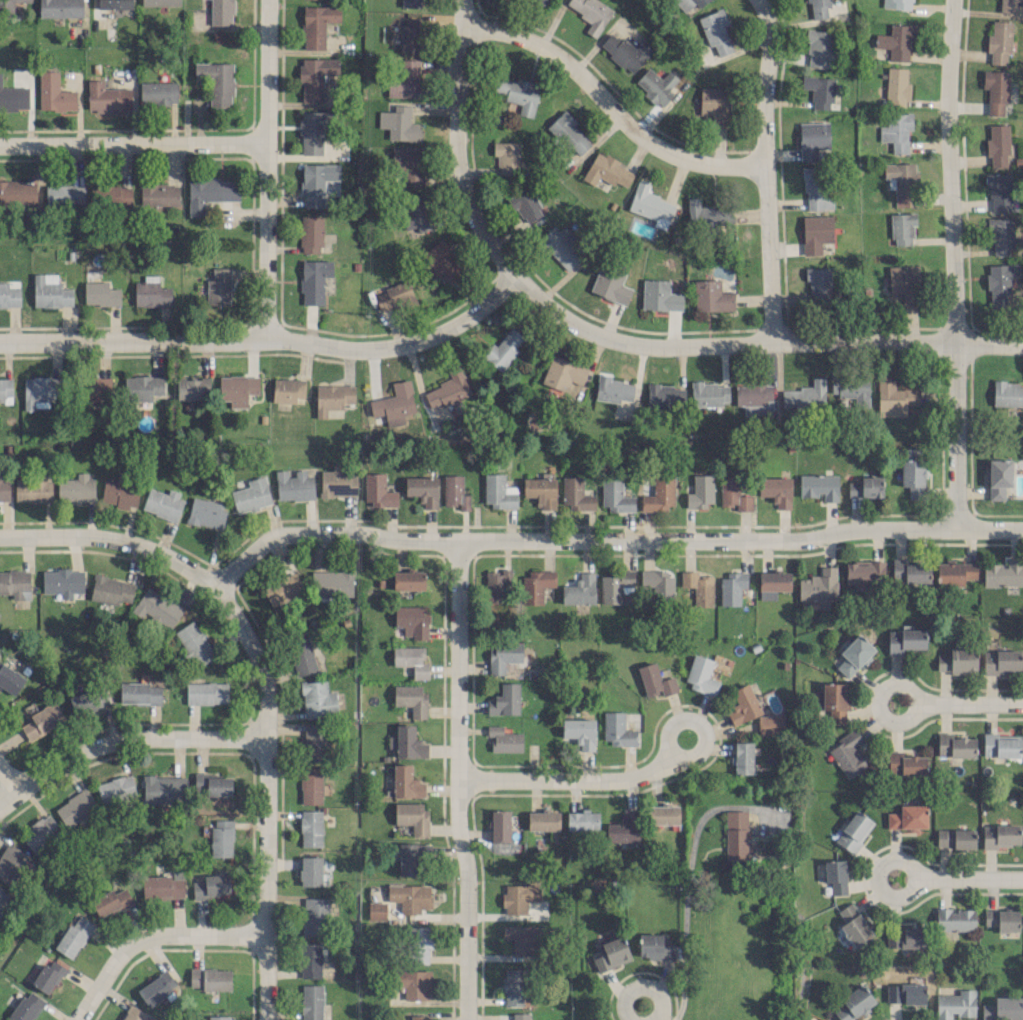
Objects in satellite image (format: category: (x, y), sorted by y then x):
building: (544, 1)
building: (160, 2)
building: (411, 3)
building: (690, 3)
building: (114, 4)
building: (896, 4)
building: (8, 5)
building: (1006, 5)
building: (60, 8)
building: (818, 8)
building: (221, 12)
building: (591, 13)
building: (317, 24)
building: (715, 31)
building: (411, 34)
building: (999, 41)
building: (896, 42)
building: (817, 46)
building: (624, 51)
building: (404, 79)
building: (316, 80)
building: (216, 82)
building: (656, 85)
building: (897, 87)
building: (819, 90)
building: (996, 90)
building: (53, 92)
building: (158, 92)
building: (517, 93)
building: (106, 96)
building: (14, 97)
road: (608, 105)
building: (713, 105)
building: (399, 123)
building: (313, 130)
building: (896, 131)
building: (567, 132)
building: (812, 139)
road: (455, 143)
road: (133, 144)
building: (997, 144)
building: (507, 156)
building: (409, 164)
road: (266, 169)
road: (764, 169)
building: (607, 171)
building: (316, 182)
building: (902, 182)
building: (817, 187)
building: (18, 191)
building: (210, 192)
building: (999, 192)
building: (64, 194)
building: (159, 194)
building: (110, 195)
building: (525, 205)
building: (650, 205)
building: (415, 213)
building: (710, 224)
building: (902, 229)
building: (310, 233)
building: (815, 233)
building: (1000, 235)
building: (562, 247)
building: (442, 263)
road: (951, 263)
building: (314, 280)
building: (891, 280)
building: (1000, 282)
building: (611, 283)
building: (818, 286)
building: (218, 287)
building: (50, 291)
building: (151, 292)
building: (100, 293)
building: (9, 295)
building: (660, 295)
building: (393, 296)
building: (711, 296)
road: (268, 339)
road: (754, 343)
building: (503, 349)
building: (562, 373)
building: (142, 387)
building: (851, 387)
building: (95, 388)
building: (192, 388)
building: (5, 389)
building: (238, 389)
building: (448, 389)
building: (614, 389)
building: (288, 390)
building: (39, 391)
building: (1007, 393)
building: (709, 394)
building: (752, 394)
building: (664, 396)
building: (805, 396)
building: (332, 397)
building: (893, 398)
building: (394, 403)
building: (913, 477)
building: (999, 478)
building: (338, 481)
building: (293, 485)
building: (819, 486)
building: (865, 487)
building: (4, 489)
building: (76, 489)
building: (33, 490)
building: (378, 490)
building: (423, 490)
building: (729, 490)
building: (776, 490)
building: (498, 491)
building: (540, 491)
building: (700, 491)
building: (455, 492)
building: (119, 493)
building: (575, 494)
building: (251, 495)
building: (659, 495)
building: (615, 496)
building: (744, 502)
building: (163, 503)
building: (206, 512)
road: (112, 539)
road: (608, 540)
building: (910, 571)
building: (1002, 573)
building: (864, 574)
building: (956, 574)
building: (408, 580)
building: (774, 580)
building: (62, 581)
building: (15, 583)
building: (331, 583)
building: (659, 583)
building: (498, 584)
building: (536, 585)
building: (818, 585)
building: (698, 587)
building: (615, 588)
building: (731, 588)
building: (111, 589)
building: (282, 589)
building: (580, 589)
building: (156, 607)
building: (412, 621)
building: (905, 640)
building: (193, 644)
building: (854, 654)
building: (303, 655)
building: (503, 655)
building: (411, 660)
building: (1003, 662)
building: (957, 665)
building: (701, 675)
building: (10, 679)
building: (655, 680)
building: (140, 692)
building: (206, 693)
building: (318, 698)
building: (411, 698)
building: (505, 700)
building: (833, 700)
building: (88, 701)
road: (914, 703)
road: (969, 704)
building: (743, 705)
building: (43, 720)
road: (693, 721)
building: (770, 724)
building: (617, 729)
building: (580, 732)
road: (123, 739)
building: (504, 739)
building: (315, 742)
building: (408, 742)
building: (1001, 745)
building: (957, 747)
building: (848, 755)
building: (742, 757)
building: (905, 763)
road: (9, 779)
road: (455, 780)
road: (570, 780)
building: (406, 782)
building: (311, 785)
building: (213, 788)
building: (115, 789)
building: (164, 789)
road: (266, 796)
building: (76, 808)
building: (663, 814)
building: (412, 816)
building: (907, 817)
building: (543, 820)
building: (582, 820)
building: (500, 825)
building: (311, 828)
building: (623, 830)
building: (853, 831)
building: (40, 833)
building: (736, 834)
building: (1001, 835)
building: (221, 837)
building: (955, 838)
building: (412, 859)
building: (12, 865)
building: (310, 870)
building: (836, 875)
road: (913, 878)
road: (968, 878)
road: (688, 882)
building: (212, 885)
building: (161, 886)
building: (2, 897)
building: (410, 897)
building: (519, 897)
building: (110, 901)
building: (377, 910)
building: (314, 916)
building: (955, 919)
building: (1002, 919)
building: (856, 930)
building: (74, 936)
road: (149, 936)
building: (904, 937)
building: (522, 938)
building: (418, 944)
building: (654, 947)
building: (611, 953)
building: (310, 960)
building: (48, 976)
building: (209, 978)
building: (414, 983)
road: (639, 986)
building: (513, 987)
building: (156, 988)
building: (905, 993)
building: (311, 1002)
building: (853, 1004)
building: (955, 1004)
building: (26, 1007)
building: (1002, 1009)
building: (134, 1014)
building: (522, 1016)
building: (218, 1017)
building: (417, 1017)

